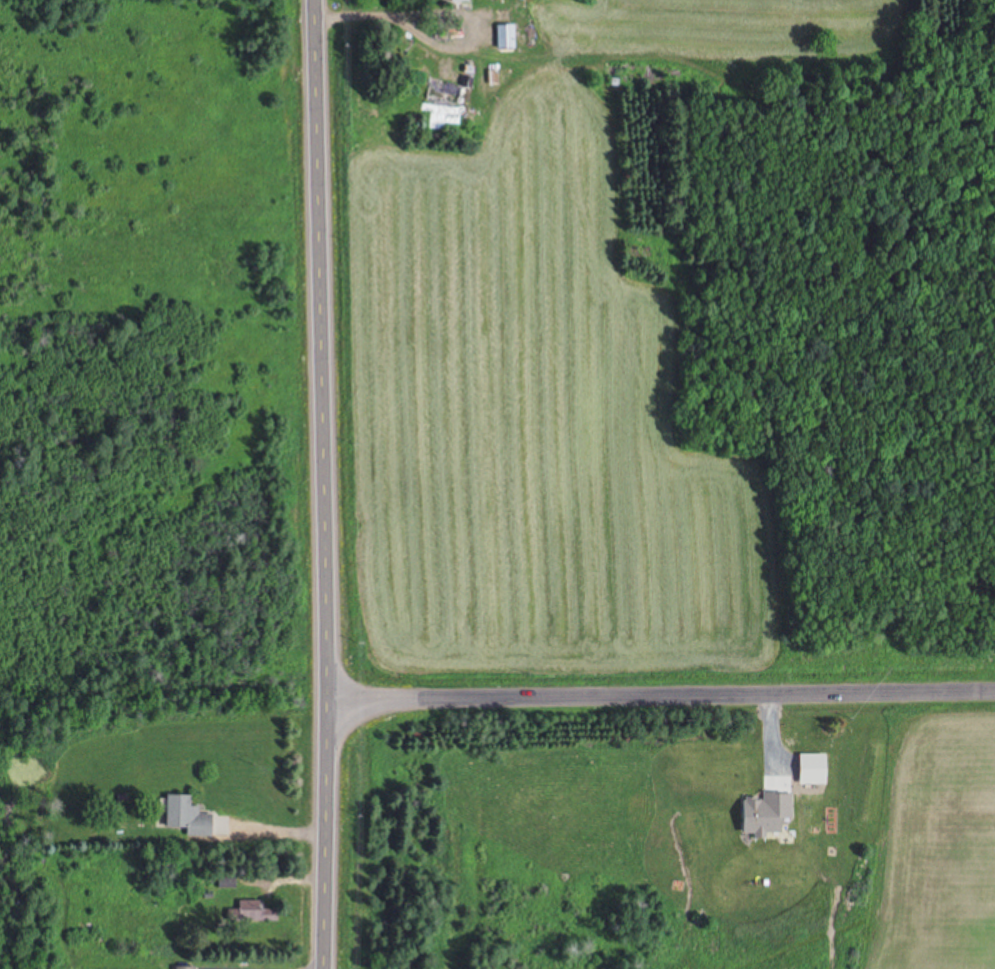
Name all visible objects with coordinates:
building: (501, 38)
building: (437, 96)
crop: (540, 390)
road: (319, 484)
road: (659, 693)
building: (180, 818)
building: (248, 913)
building: (180, 968)

